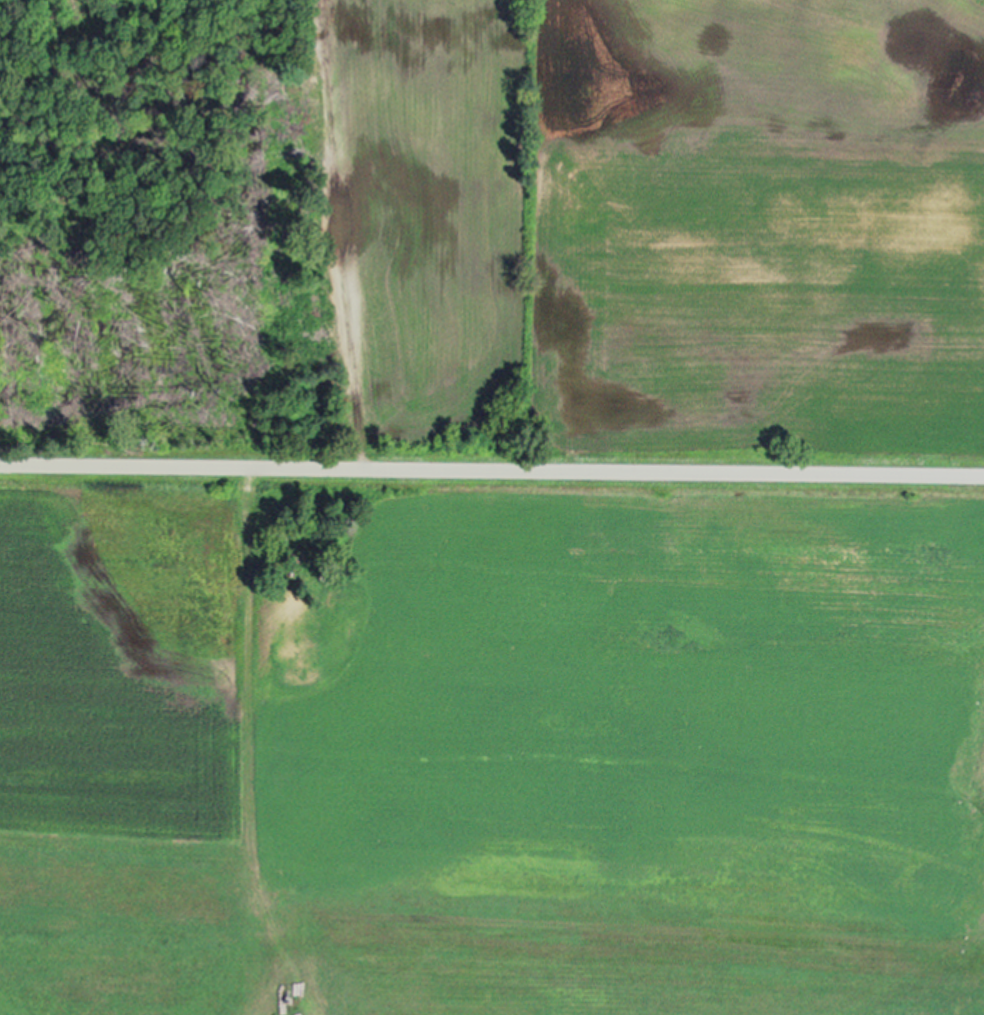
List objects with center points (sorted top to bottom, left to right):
road: (491, 472)

